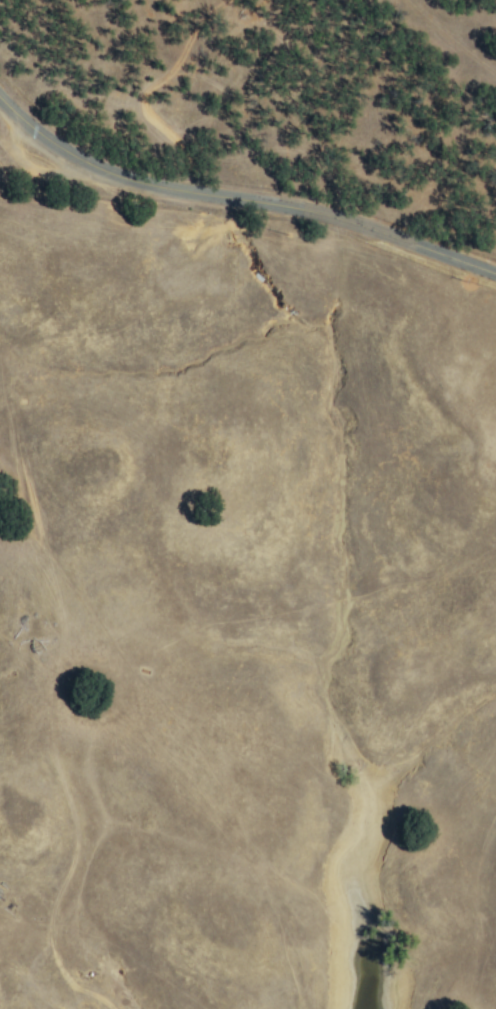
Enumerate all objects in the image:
road: (239, 199)

